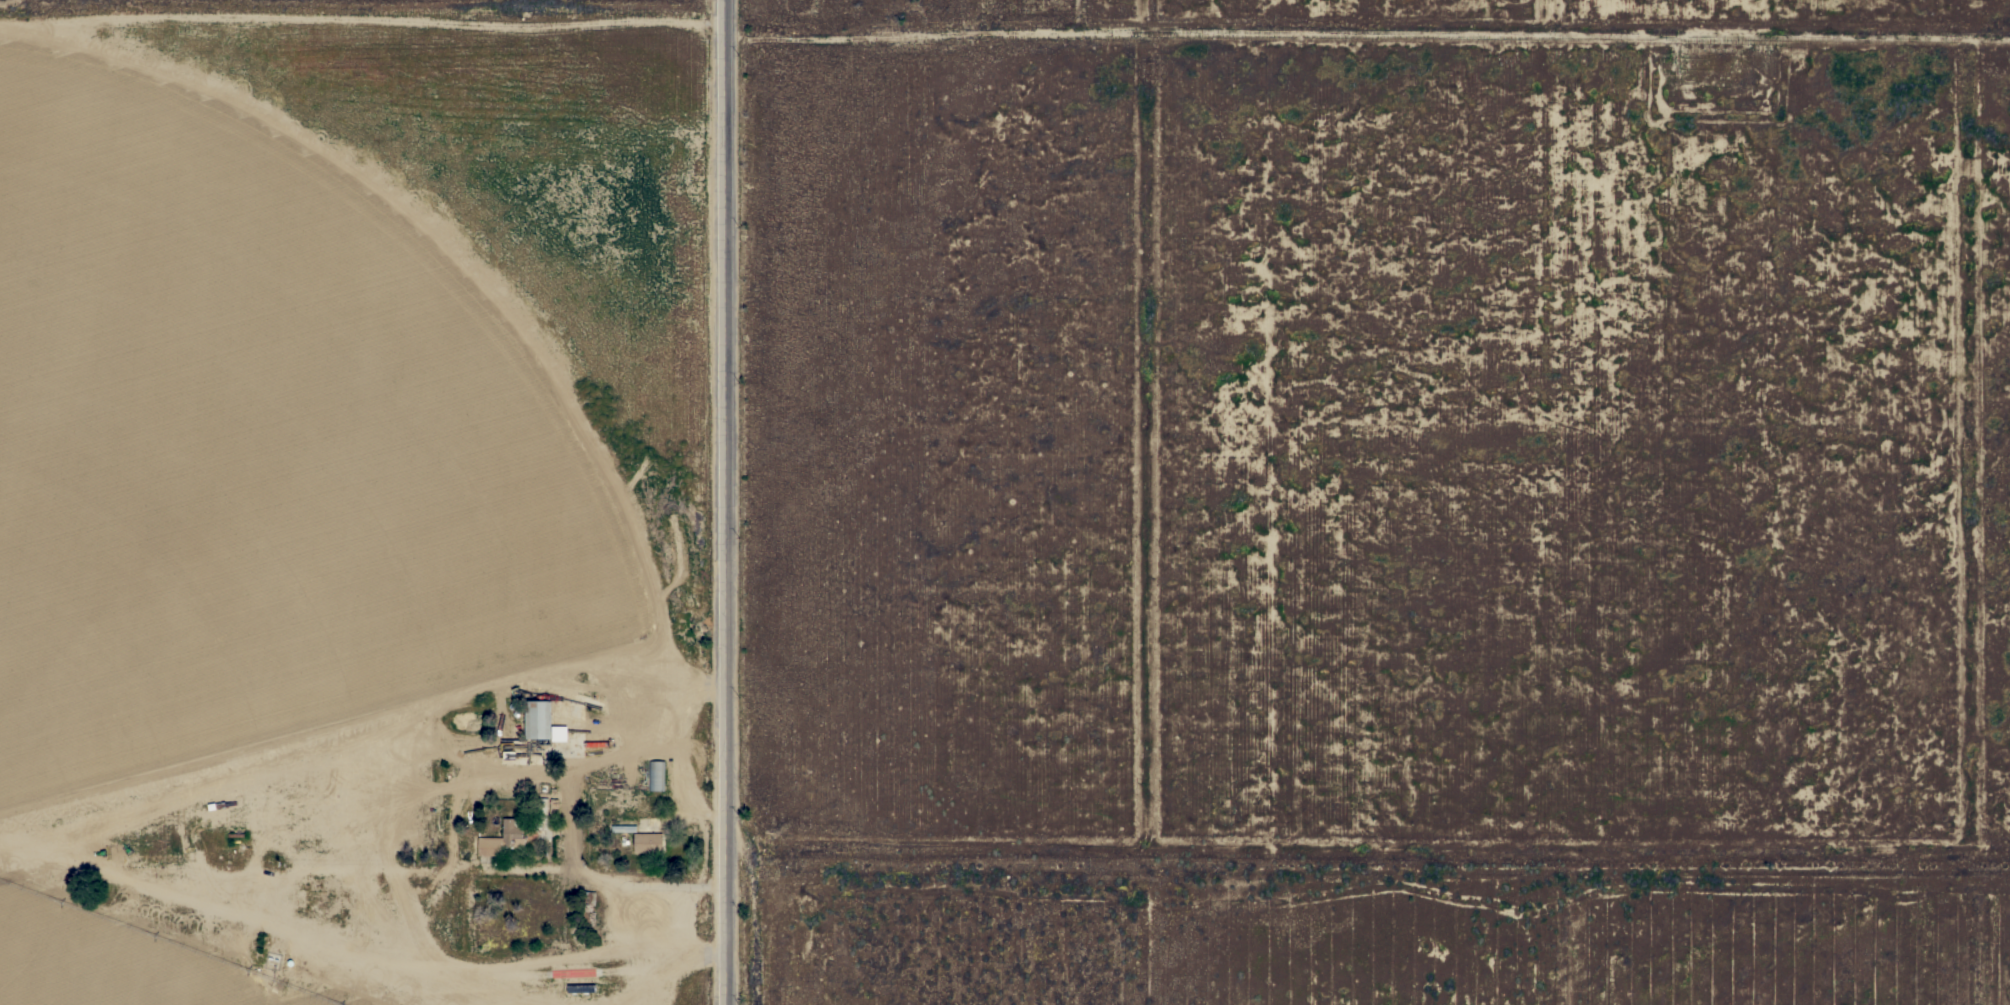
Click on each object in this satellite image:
road: (366, 5)
road: (1201, 16)
crop: (343, 384)
road: (729, 502)
building: (537, 719)
building: (655, 775)
building: (541, 813)
building: (623, 827)
building: (501, 838)
building: (647, 842)
building: (587, 900)
crop: (111, 957)

